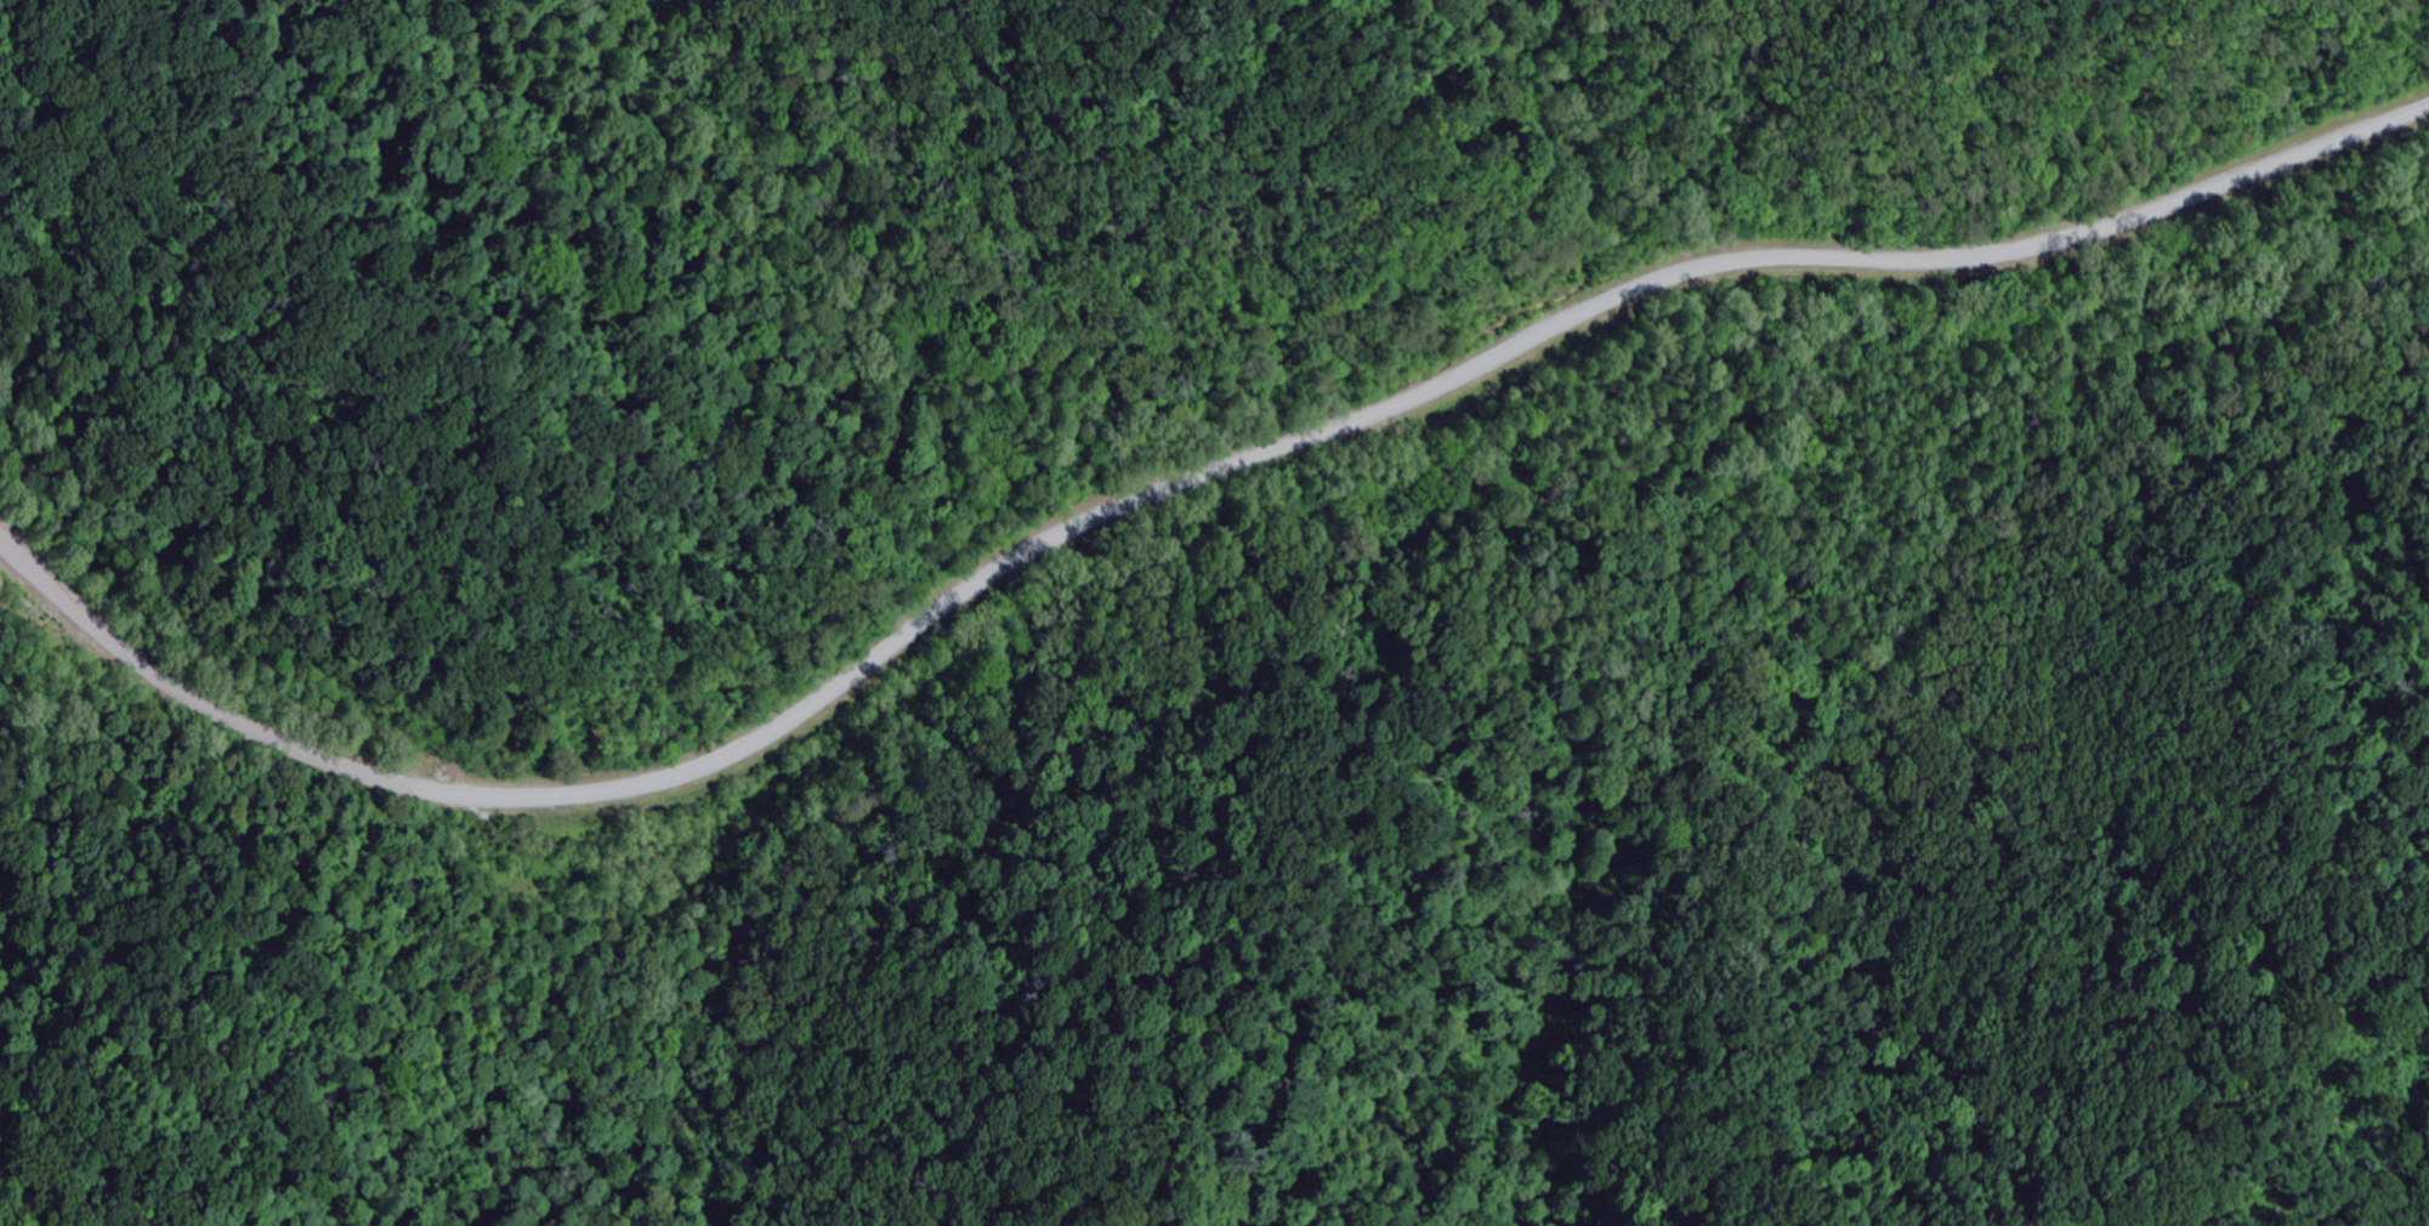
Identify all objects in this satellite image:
road: (1171, 483)

